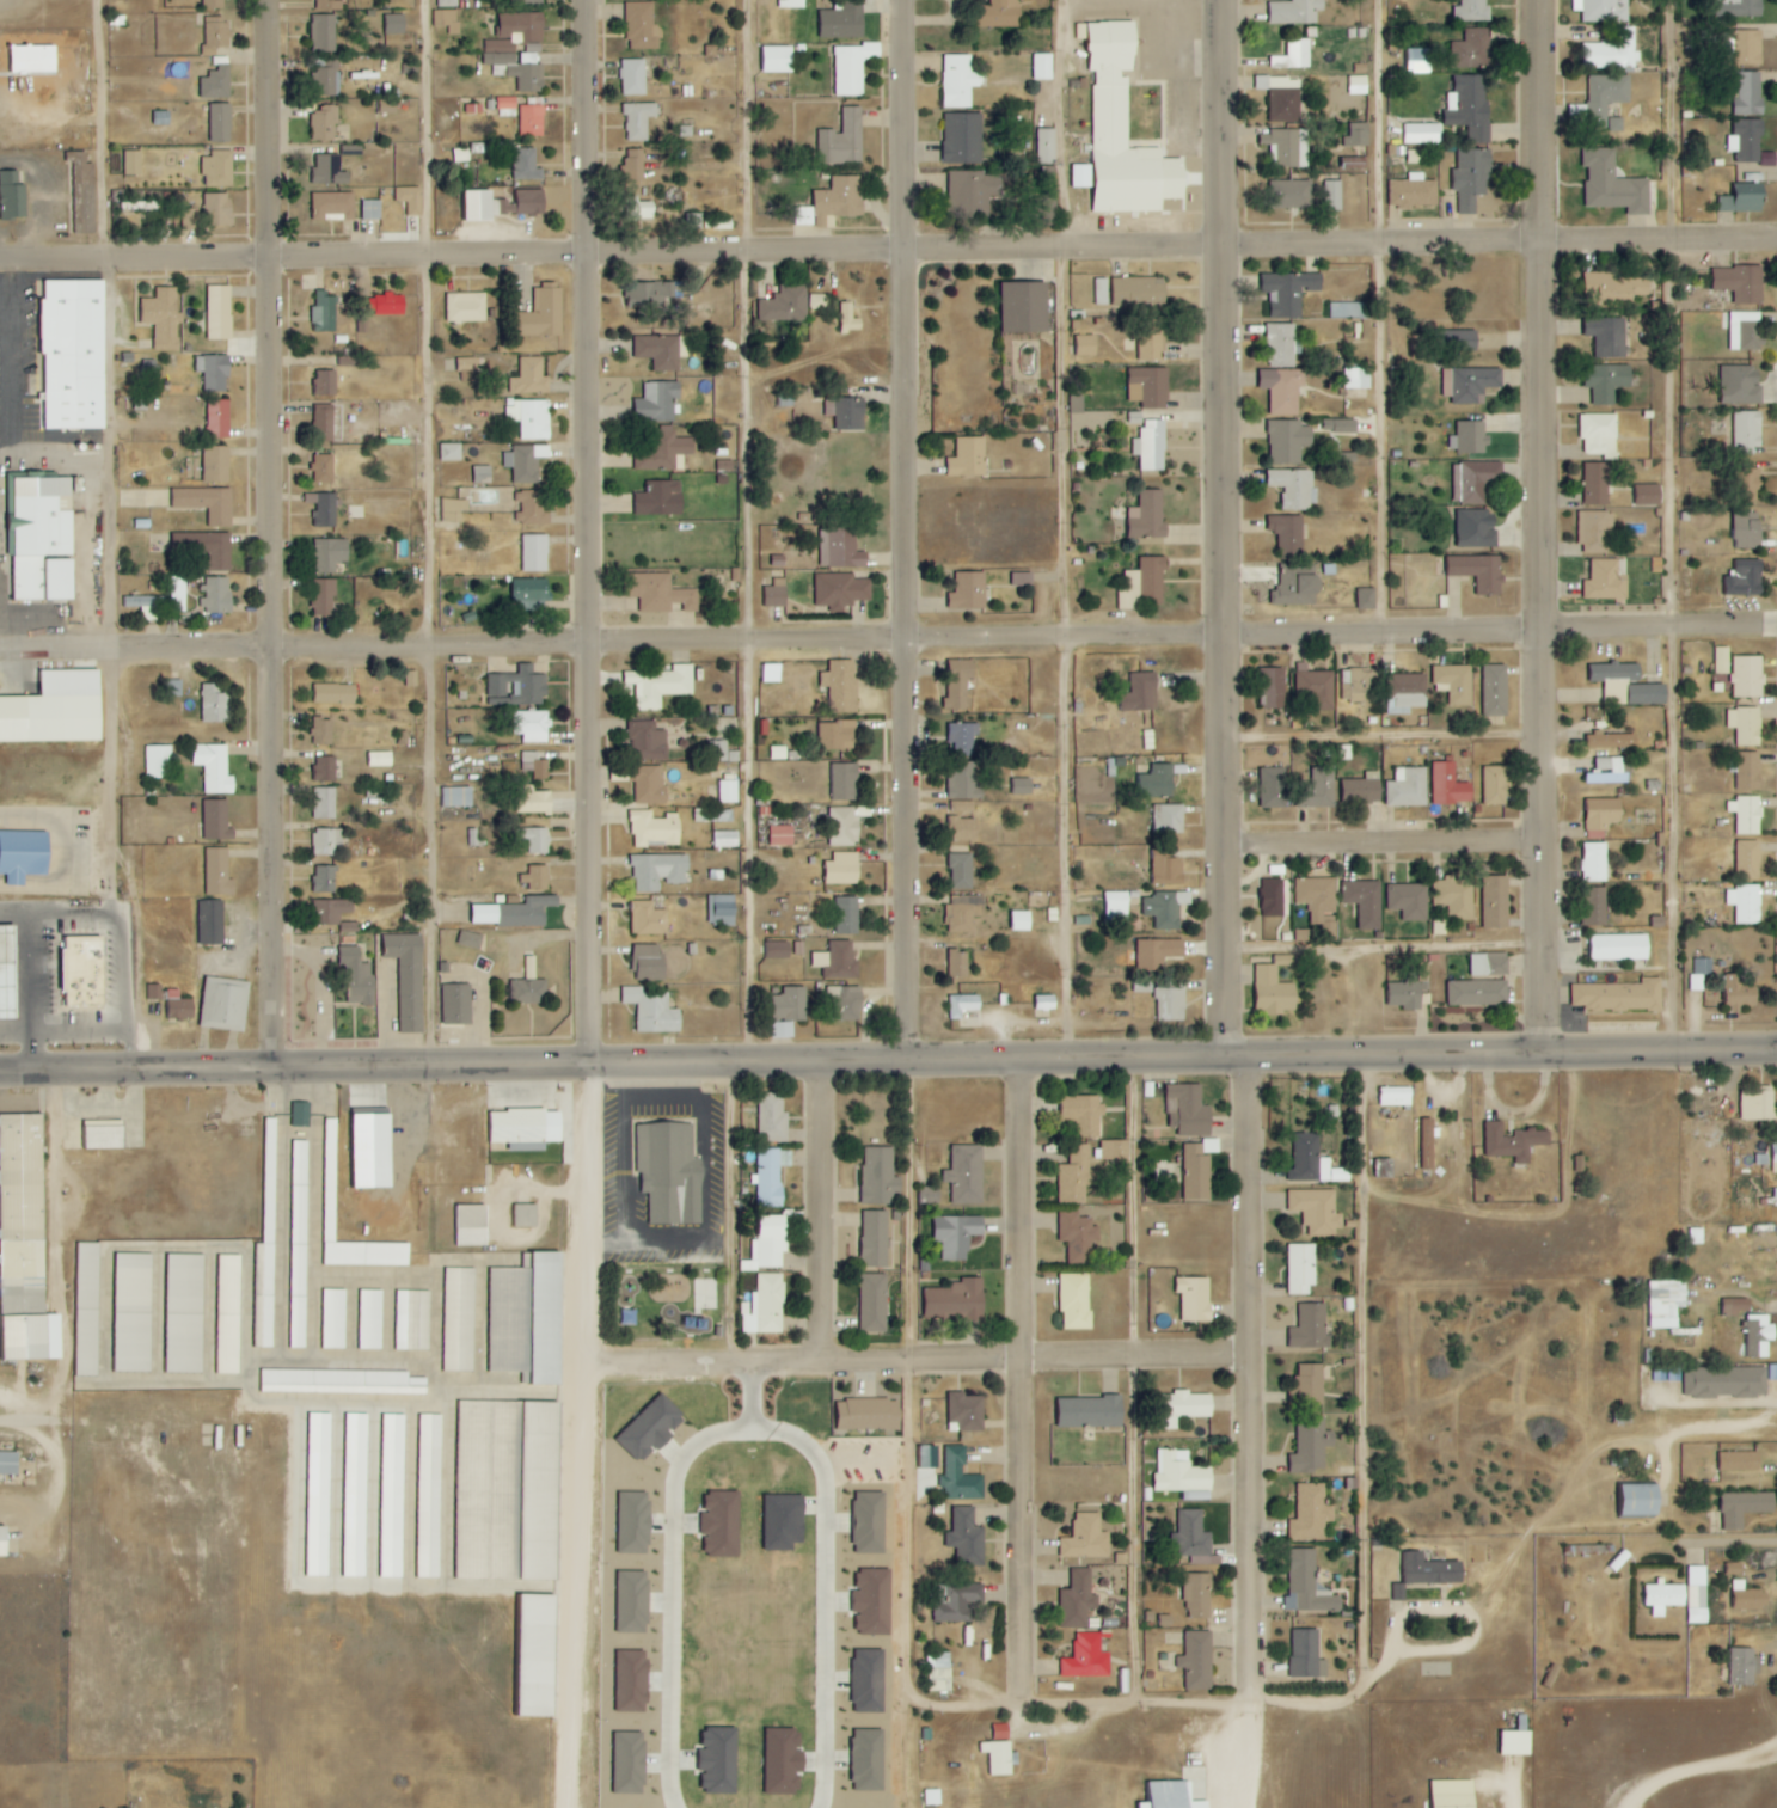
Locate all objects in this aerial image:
building: (526, 0)
building: (213, 4)
building: (447, 4)
building: (791, 4)
building: (327, 5)
building: (1739, 8)
building: (1472, 11)
building: (1603, 11)
building: (1295, 12)
building: (1003, 13)
building: (446, 20)
building: (842, 22)
building: (394, 25)
building: (642, 26)
building: (522, 27)
building: (324, 33)
building: (215, 35)
building: (1746, 47)
building: (1472, 50)
building: (1612, 53)
building: (1294, 56)
building: (777, 60)
building: (1418, 61)
building: (514, 67)
building: (1043, 67)
building: (852, 68)
building: (632, 78)
building: (958, 81)
building: (216, 82)
building: (325, 82)
building: (1358, 85)
building: (1748, 93)
building: (1285, 100)
building: (1607, 100)
building: (1469, 106)
building: (387, 108)
building: (505, 108)
building: (1577, 115)
building: (532, 121)
building: (638, 121)
building: (220, 123)
building: (324, 123)
building: (1121, 131)
building: (1421, 134)
building: (1358, 135)
building: (962, 139)
building: (842, 140)
building: (1746, 141)
building: (1046, 146)
building: (1288, 147)
building: (351, 151)
building: (1356, 155)
building: (131, 163)
building: (526, 165)
building: (635, 165)
building: (217, 170)
building: (329, 171)
building: (1472, 177)
building: (1046, 180)
building: (1614, 184)
building: (970, 189)
building: (82, 192)
building: (1414, 192)
building: (1291, 195)
building: (1332, 195)
building: (1745, 196)
building: (12, 198)
building: (135, 200)
building: (410, 200)
building: (531, 202)
building: (832, 203)
building: (478, 206)
building: (332, 207)
building: (507, 208)
building: (217, 209)
building: (638, 209)
building: (370, 210)
building: (190, 220)
building: (693, 221)
building: (717, 223)
road: (1497, 244)
road: (609, 256)
building: (1740, 282)
building: (1101, 290)
building: (1613, 290)
building: (1139, 292)
building: (1289, 292)
building: (650, 294)
building: (821, 301)
building: (388, 305)
building: (785, 305)
building: (465, 307)
building: (1025, 307)
building: (1347, 311)
building: (219, 312)
building: (324, 312)
building: (544, 313)
road: (1392, 317)
building: (163, 318)
building: (848, 318)
building: (1746, 331)
building: (1607, 336)
building: (1152, 339)
building: (1086, 345)
building: (1282, 345)
building: (662, 350)
building: (74, 354)
building: (467, 369)
building: (214, 372)
building: (529, 378)
building: (1358, 378)
building: (1606, 381)
building: (325, 382)
building: (1470, 384)
building: (1024, 385)
building: (1741, 385)
building: (1148, 387)
building: (1283, 390)
building: (785, 399)
building: (657, 402)
building: (1077, 404)
building: (829, 406)
building: (850, 413)
building: (529, 417)
building: (219, 418)
building: (324, 423)
building: (1341, 425)
building: (1748, 431)
building: (1599, 435)
building: (1470, 437)
building: (1288, 441)
building: (1151, 446)
building: (662, 451)
building: (451, 452)
building: (968, 458)
building: (526, 462)
building: (216, 464)
building: (323, 468)
building: (482, 474)
building: (1475, 480)
building: (1595, 483)
building: (1748, 484)
building: (1294, 488)
building: (1649, 495)
building: (661, 498)
building: (207, 503)
building: (532, 508)
building: (324, 509)
building: (453, 509)
building: (1147, 516)
road: (1550, 527)
road: (1681, 527)
building: (1476, 528)
road: (1220, 529)
building: (1747, 529)
road: (1072, 531)
building: (1594, 531)
road: (756, 532)
road: (913, 532)
road: (425, 533)
road: (277, 535)
building: (1288, 535)
building: (41, 538)
road: (108, 538)
building: (209, 548)
building: (841, 548)
building: (534, 552)
building: (329, 554)
building: (1479, 571)
building: (1746, 578)
building: (1022, 580)
building: (1606, 580)
building: (1144, 584)
building: (1295, 588)
building: (841, 590)
building: (531, 592)
building: (968, 592)
building: (658, 593)
building: (177, 594)
building: (776, 594)
building: (216, 595)
building: (324, 597)
building: (1367, 599)
building: (143, 602)
road: (1499, 633)
road: (611, 646)
building: (1722, 660)
building: (1614, 672)
building: (771, 673)
building: (1748, 676)
building: (411, 679)
building: (958, 682)
building: (1454, 682)
building: (1361, 685)
building: (660, 686)
building: (841, 686)
building: (1315, 687)
building: (1273, 688)
building: (1495, 690)
building: (1141, 693)
building: (1407, 693)
building: (335, 694)
building: (1647, 694)
building: (214, 705)
building: (55, 710)
building: (531, 725)
building: (1746, 725)
building: (321, 733)
building: (838, 735)
road: (1386, 735)
building: (963, 738)
building: (1612, 741)
building: (649, 742)
building: (779, 753)
building: (379, 759)
building: (158, 762)
building: (214, 767)
building: (534, 767)
building: (325, 768)
building: (1748, 771)
building: (1610, 772)
building: (845, 782)
building: (963, 782)
building: (1157, 782)
building: (649, 785)
building: (1448, 785)
building: (1496, 785)
building: (1023, 786)
building: (1273, 787)
building: (1408, 787)
building: (1317, 789)
building: (1362, 789)
building: (727, 791)
building: (455, 797)
building: (533, 801)
building: (324, 803)
building: (1746, 815)
building: (1601, 816)
building: (1168, 819)
building: (216, 821)
building: (844, 826)
building: (654, 829)
building: (963, 831)
building: (782, 836)
building: (725, 839)
building: (535, 840)
road: (1387, 841)
building: (326, 842)
building: (23, 856)
building: (1748, 860)
building: (1594, 862)
building: (842, 869)
building: (658, 871)
building: (961, 871)
building: (1169, 871)
building: (217, 874)
building: (537, 877)
building: (324, 880)
building: (1316, 896)
building: (1273, 897)
building: (1454, 897)
building: (1409, 901)
building: (1365, 902)
building: (1496, 902)
road: (599, 903)
building: (1745, 903)
building: (1116, 905)
building: (1594, 907)
building: (1168, 909)
building: (330, 911)
building: (722, 911)
building: (514, 913)
building: (964, 913)
building: (847, 915)
building: (649, 919)
building: (1021, 921)
building: (210, 923)
building: (349, 927)
building: (470, 939)
building: (1619, 948)
road: (1387, 949)
building: (778, 950)
building: (1159, 954)
building: (838, 961)
building: (649, 962)
building: (958, 962)
building: (1489, 964)
building: (529, 969)
building: (84, 972)
building: (8, 973)
building: (1701, 973)
building: (357, 977)
building: (409, 979)
building: (1142, 985)
building: (1411, 989)
building: (528, 992)
building: (1274, 992)
building: (154, 993)
building: (1477, 993)
building: (1742, 993)
building: (1618, 997)
building: (1044, 1003)
building: (791, 1004)
building: (844, 1004)
building: (1170, 1004)
building: (223, 1005)
building: (456, 1005)
building: (962, 1005)
building: (179, 1006)
building: (652, 1011)
building: (783, 1030)
road: (1499, 1055)
road: (611, 1066)
building: (1395, 1097)
building: (1757, 1105)
building: (1188, 1110)
building: (1083, 1114)
building: (301, 1115)
building: (772, 1118)
building: (525, 1128)
building: (104, 1135)
building: (1514, 1142)
building: (1427, 1144)
building: (1114, 1150)
building: (372, 1152)
building: (270, 1158)
building: (1773, 1159)
building: (330, 1160)
building: (1312, 1162)
building: (1384, 1169)
building: (300, 1171)
building: (670, 1173)
building: (771, 1173)
building: (966, 1173)
building: (1196, 1173)
building: (1076, 1175)
building: (880, 1176)
building: (930, 1195)
building: (1775, 1196)
building: (1318, 1211)
road: (817, 1214)
road: (727, 1215)
building: (525, 1216)
building: (472, 1226)
building: (1078, 1234)
building: (956, 1236)
building: (875, 1239)
building: (24, 1244)
building: (768, 1244)
building: (367, 1255)
building: (1301, 1269)
road: (71, 1276)
building: (299, 1282)
building: (263, 1295)
building: (1195, 1299)
building: (956, 1301)
building: (1076, 1301)
building: (874, 1304)
building: (1666, 1304)
building: (764, 1306)
building: (1735, 1306)
building: (87, 1310)
building: (131, 1313)
building: (184, 1314)
building: (228, 1314)
building: (333, 1319)
building: (370, 1319)
building: (527, 1319)
building: (412, 1320)
building: (459, 1320)
building: (1311, 1328)
building: (1758, 1336)
road: (923, 1359)
road: (1359, 1362)
road: (1248, 1379)
road: (907, 1380)
building: (342, 1383)
road: (1021, 1383)
road: (1132, 1383)
building: (1727, 1383)
building: (1309, 1386)
road: (753, 1397)
building: (1184, 1408)
building: (966, 1412)
building: (1091, 1412)
building: (868, 1415)
building: (650, 1428)
building: (1311, 1446)
building: (929, 1457)
building: (1740, 1461)
building: (8, 1464)
building: (1182, 1476)
building: (960, 1477)
building: (508, 1491)
building: (318, 1495)
building: (355, 1495)
building: (392, 1496)
building: (429, 1497)
building: (1638, 1501)
building: (1745, 1508)
building: (1311, 1513)
building: (784, 1522)
building: (635, 1524)
building: (869, 1524)
building: (722, 1525)
building: (1193, 1534)
building: (967, 1538)
road: (1708, 1538)
building: (1086, 1539)
building: (4, 1543)
building: (1432, 1571)
building: (1307, 1586)
road: (672, 1593)
building: (1399, 1593)
road: (826, 1595)
building: (1697, 1595)
building: (1197, 1596)
building: (1663, 1598)
building: (1747, 1598)
building: (1078, 1600)
building: (633, 1602)
building: (874, 1602)
building: (958, 1602)
building: (538, 1656)
building: (1307, 1656)
building: (1086, 1659)
building: (1197, 1661)
building: (1744, 1667)
building: (939, 1673)
building: (632, 1681)
building: (1122, 1681)
building: (869, 1683)
road: (1144, 1702)
building: (1516, 1743)
building: (999, 1758)
building: (719, 1761)
building: (868, 1761)
building: (784, 1763)
building: (629, 1764)
road: (1513, 1792)
building: (1454, 1794)
building: (1171, 1796)

